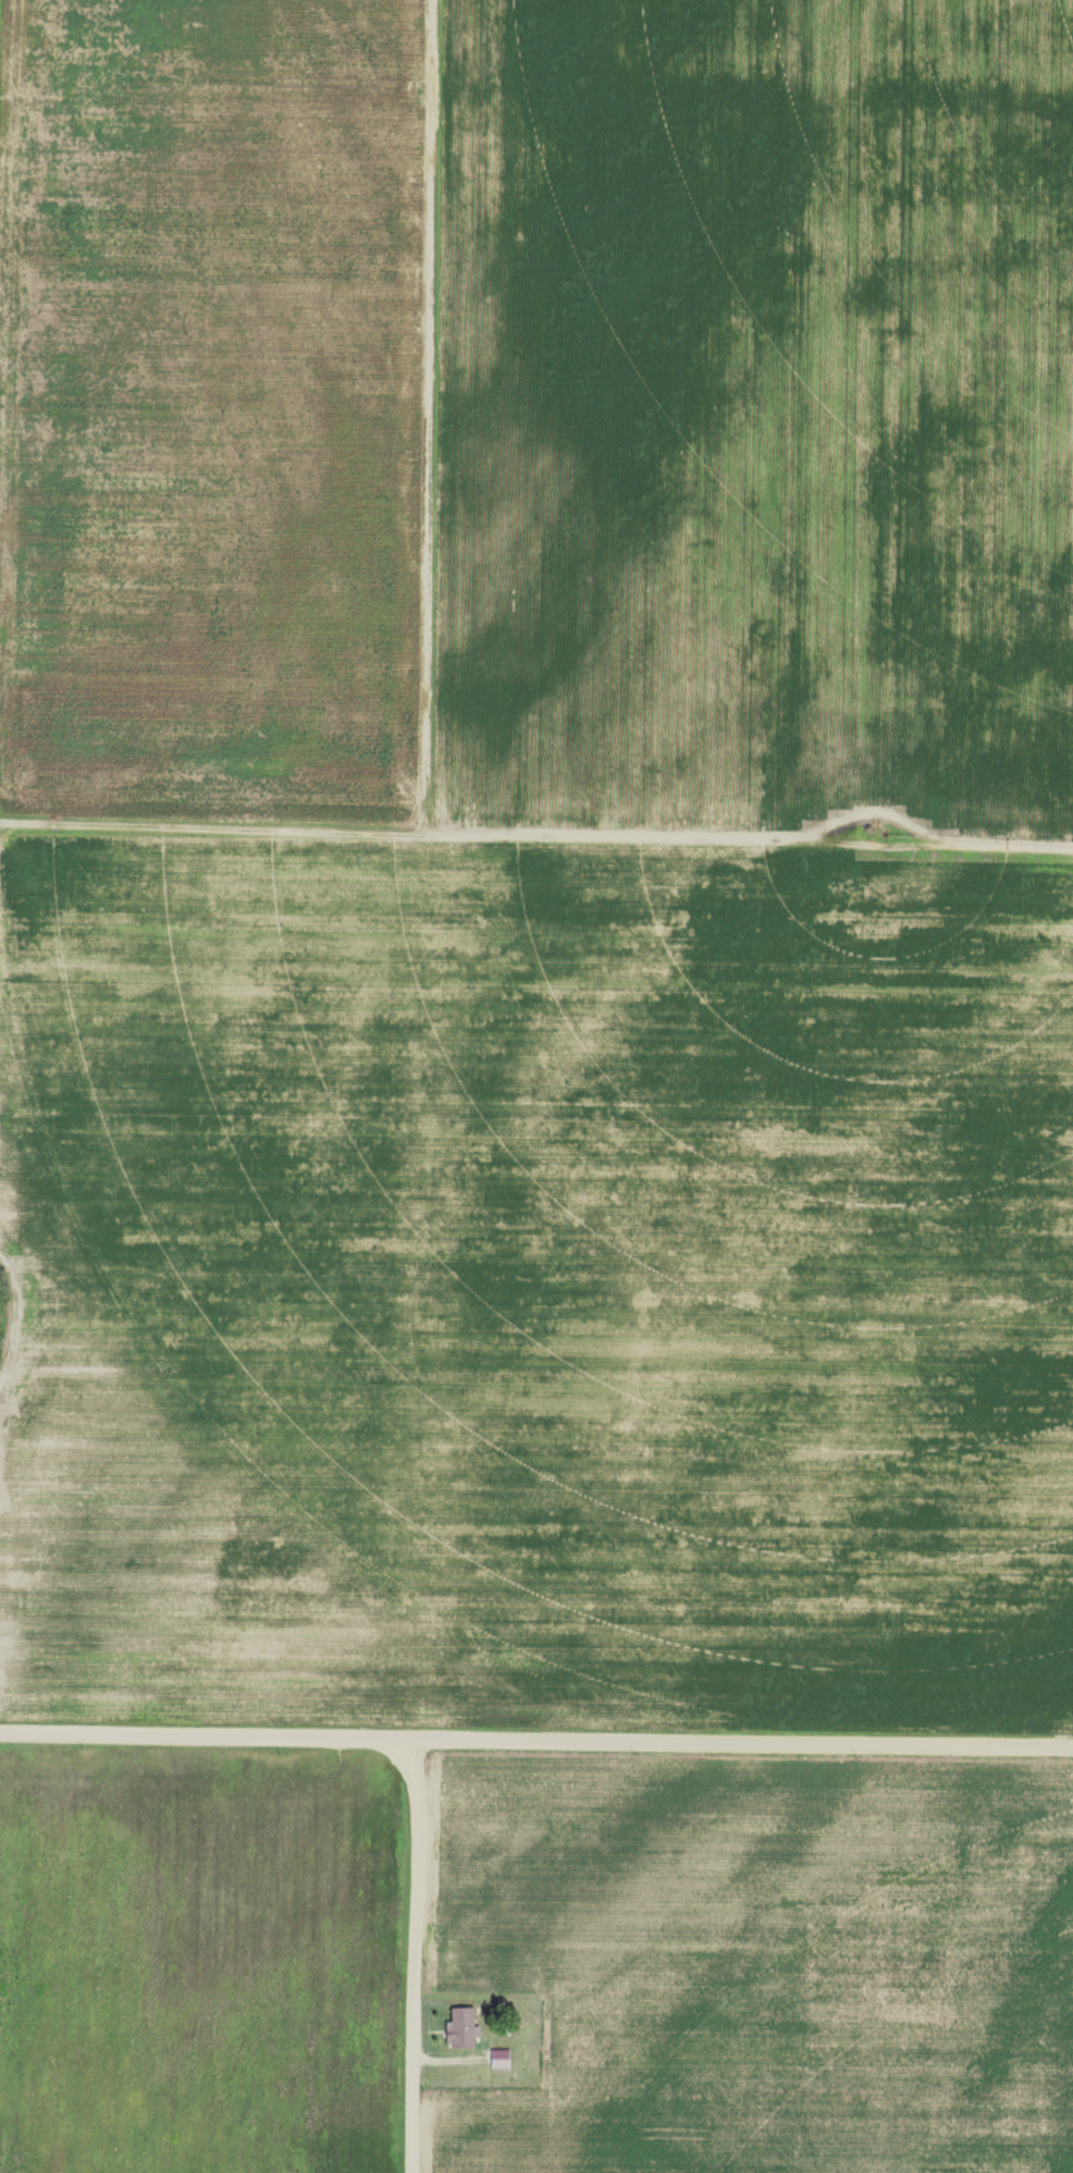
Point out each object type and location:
road: (440, 833)
road: (535, 1740)
road: (415, 1953)
building: (465, 2026)

